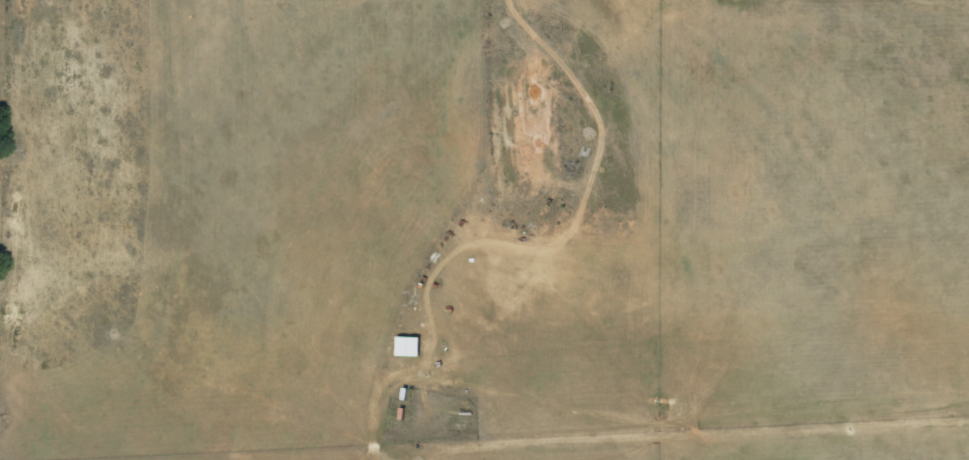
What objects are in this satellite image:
road: (468, 230)
building: (409, 345)

